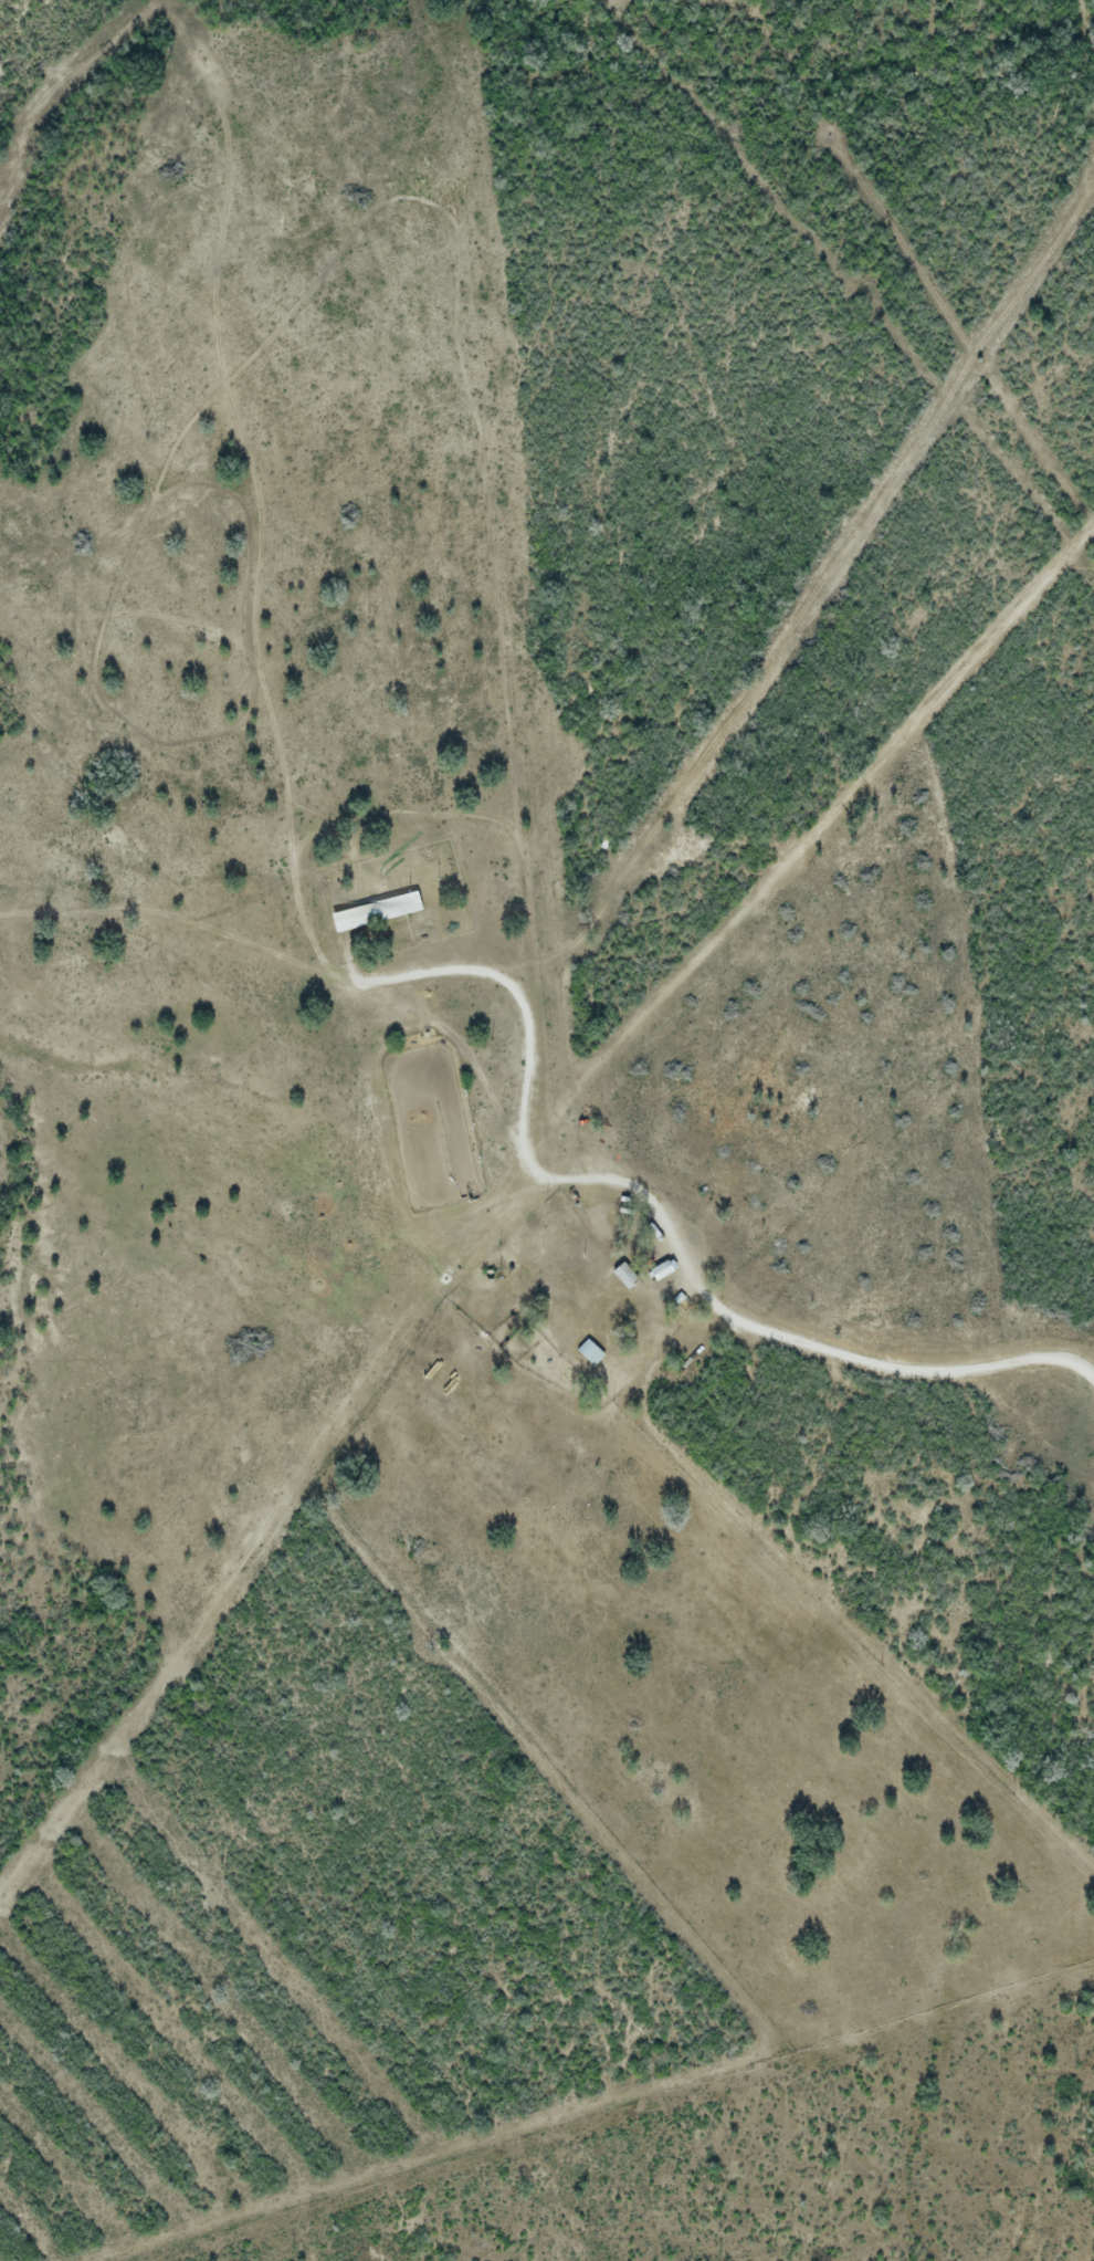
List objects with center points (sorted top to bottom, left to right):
building: (376, 910)
road: (662, 1220)
building: (661, 1268)
building: (625, 1274)
building: (593, 1354)

